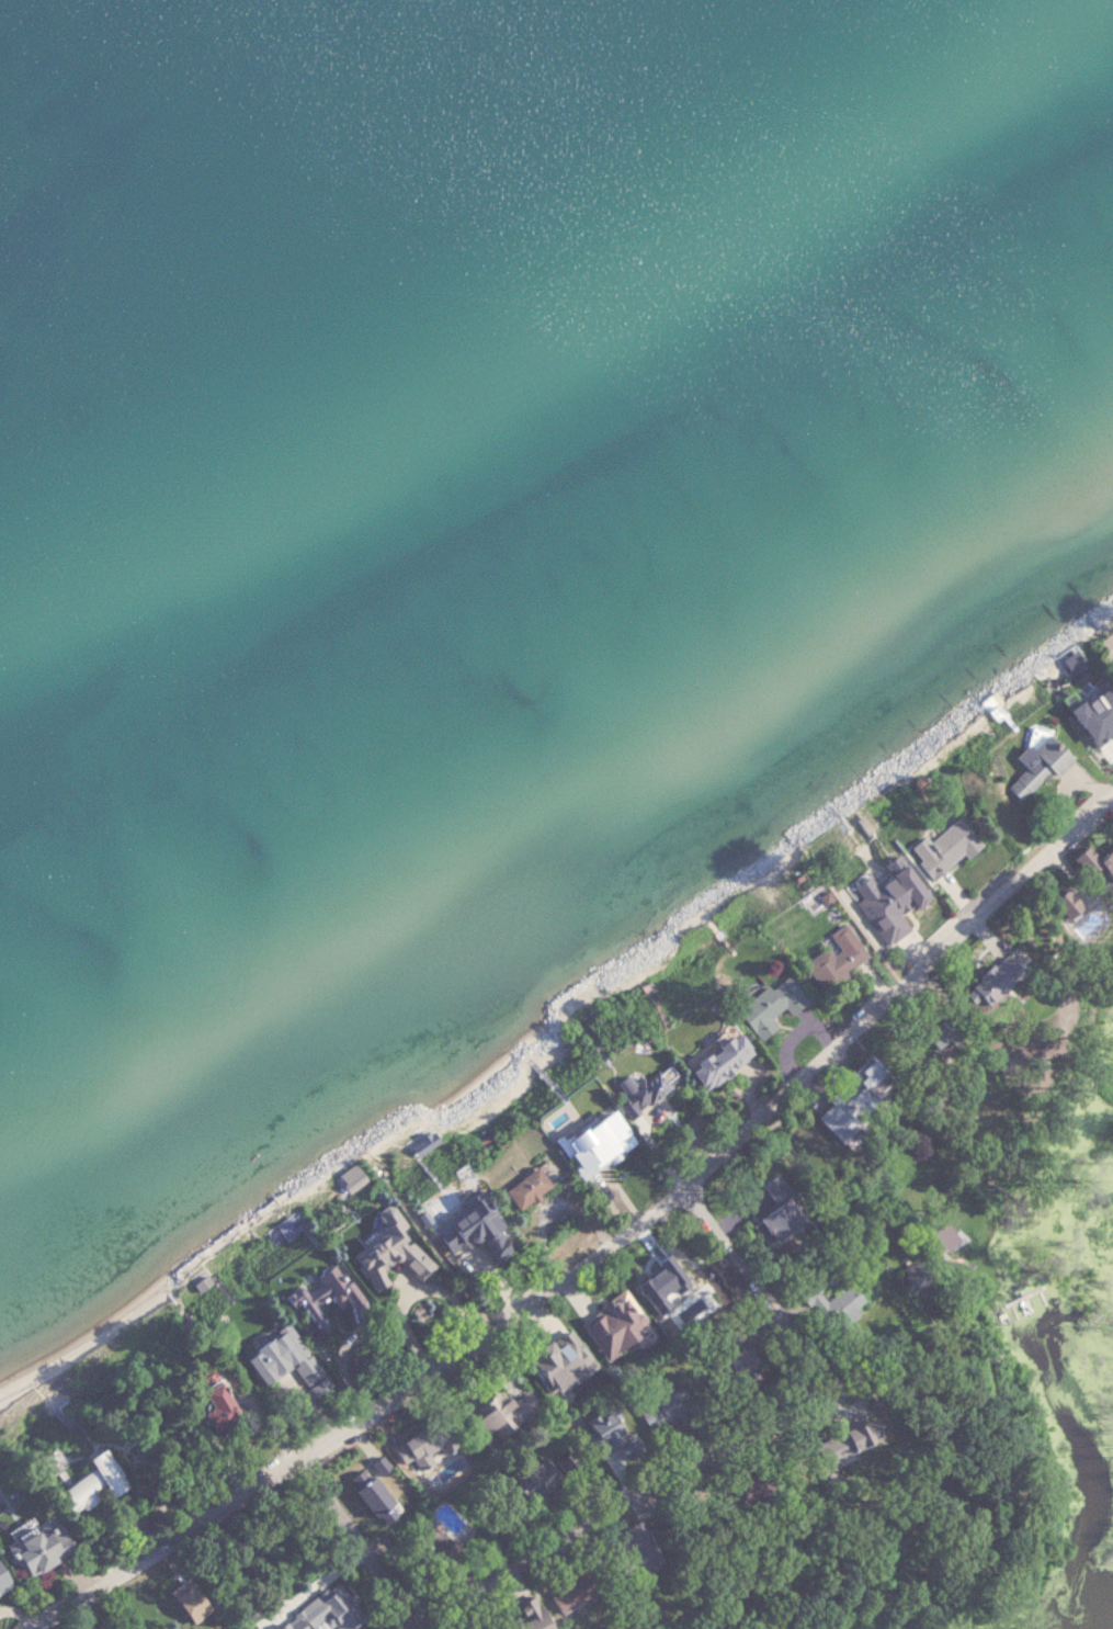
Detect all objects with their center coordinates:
building: (1111, 672)
building: (1099, 731)
building: (1026, 765)
building: (934, 849)
building: (1082, 860)
building: (883, 900)
building: (832, 964)
building: (992, 975)
building: (765, 1007)
road: (476, 1105)
building: (578, 1138)
road: (340, 1184)
building: (519, 1188)
building: (775, 1223)
road: (254, 1226)
road: (616, 1255)
road: (201, 1259)
building: (388, 1266)
road: (171, 1287)
road: (412, 1290)
road: (768, 1296)
building: (321, 1309)
building: (1025, 1311)
building: (615, 1327)
building: (268, 1355)
building: (561, 1364)
road: (33, 1382)
building: (656, 1402)
building: (506, 1412)
building: (603, 1430)
building: (847, 1443)
building: (537, 1478)
building: (77, 1485)
road: (640, 1512)
road: (367, 1546)
building: (31, 1551)
building: (559, 1598)
building: (190, 1610)
building: (333, 1610)
building: (518, 1617)
river: (1100, 1619)

